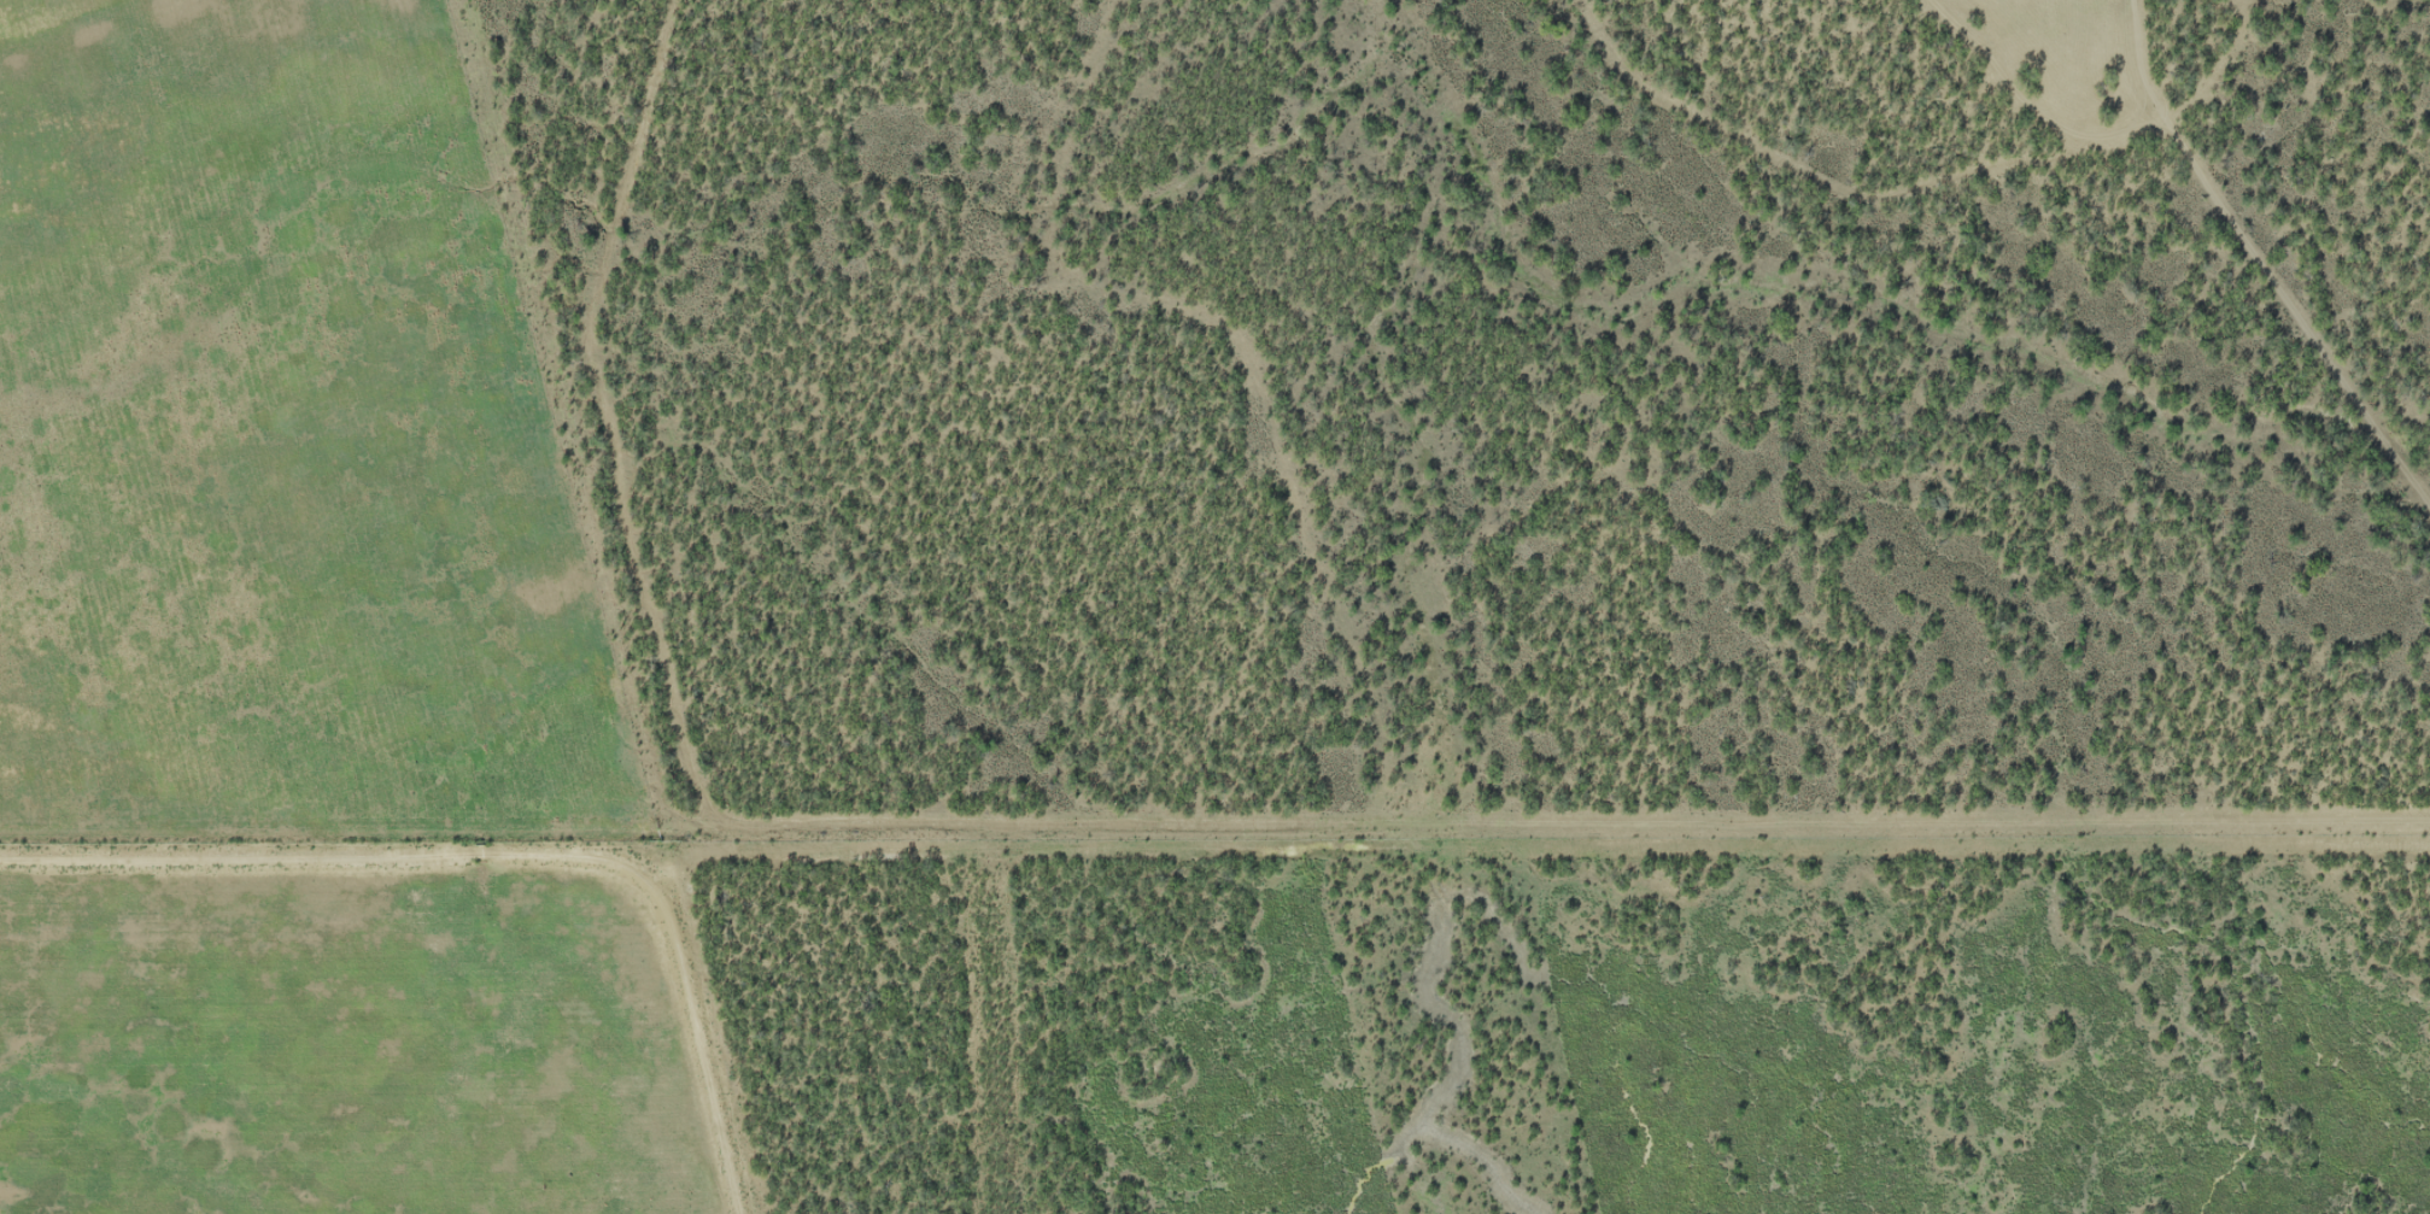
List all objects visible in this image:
road: (500, 855)

